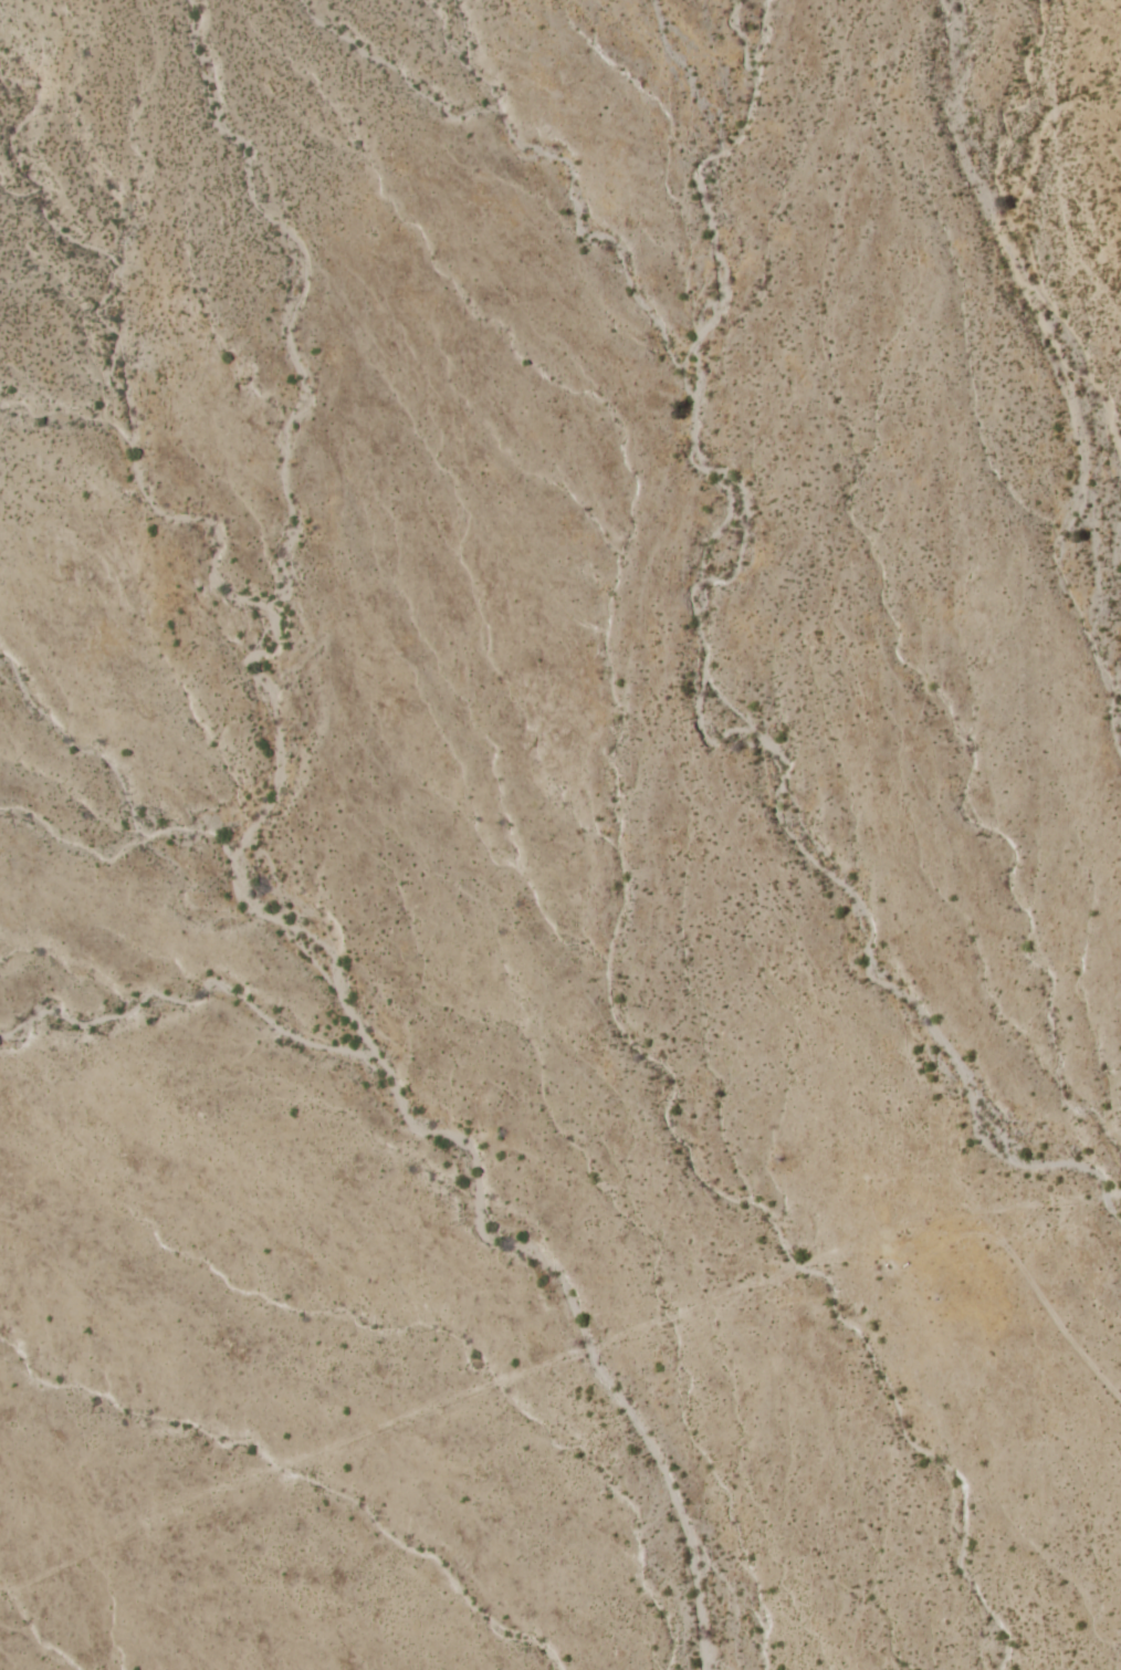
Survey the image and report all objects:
road: (1024, 1271)

